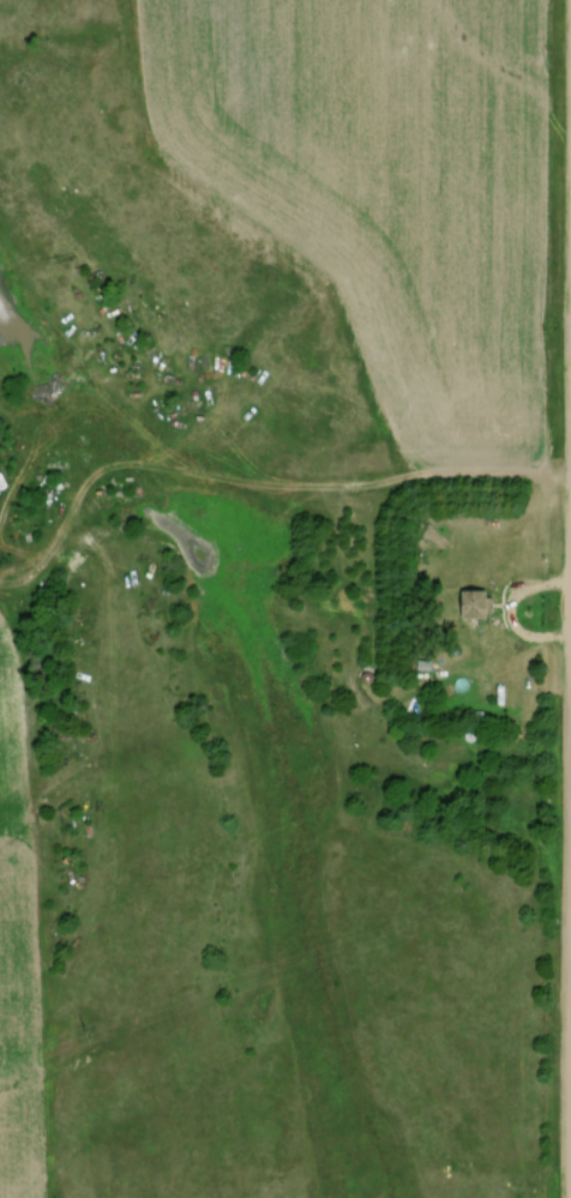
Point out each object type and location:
road: (265, 490)
building: (469, 603)

